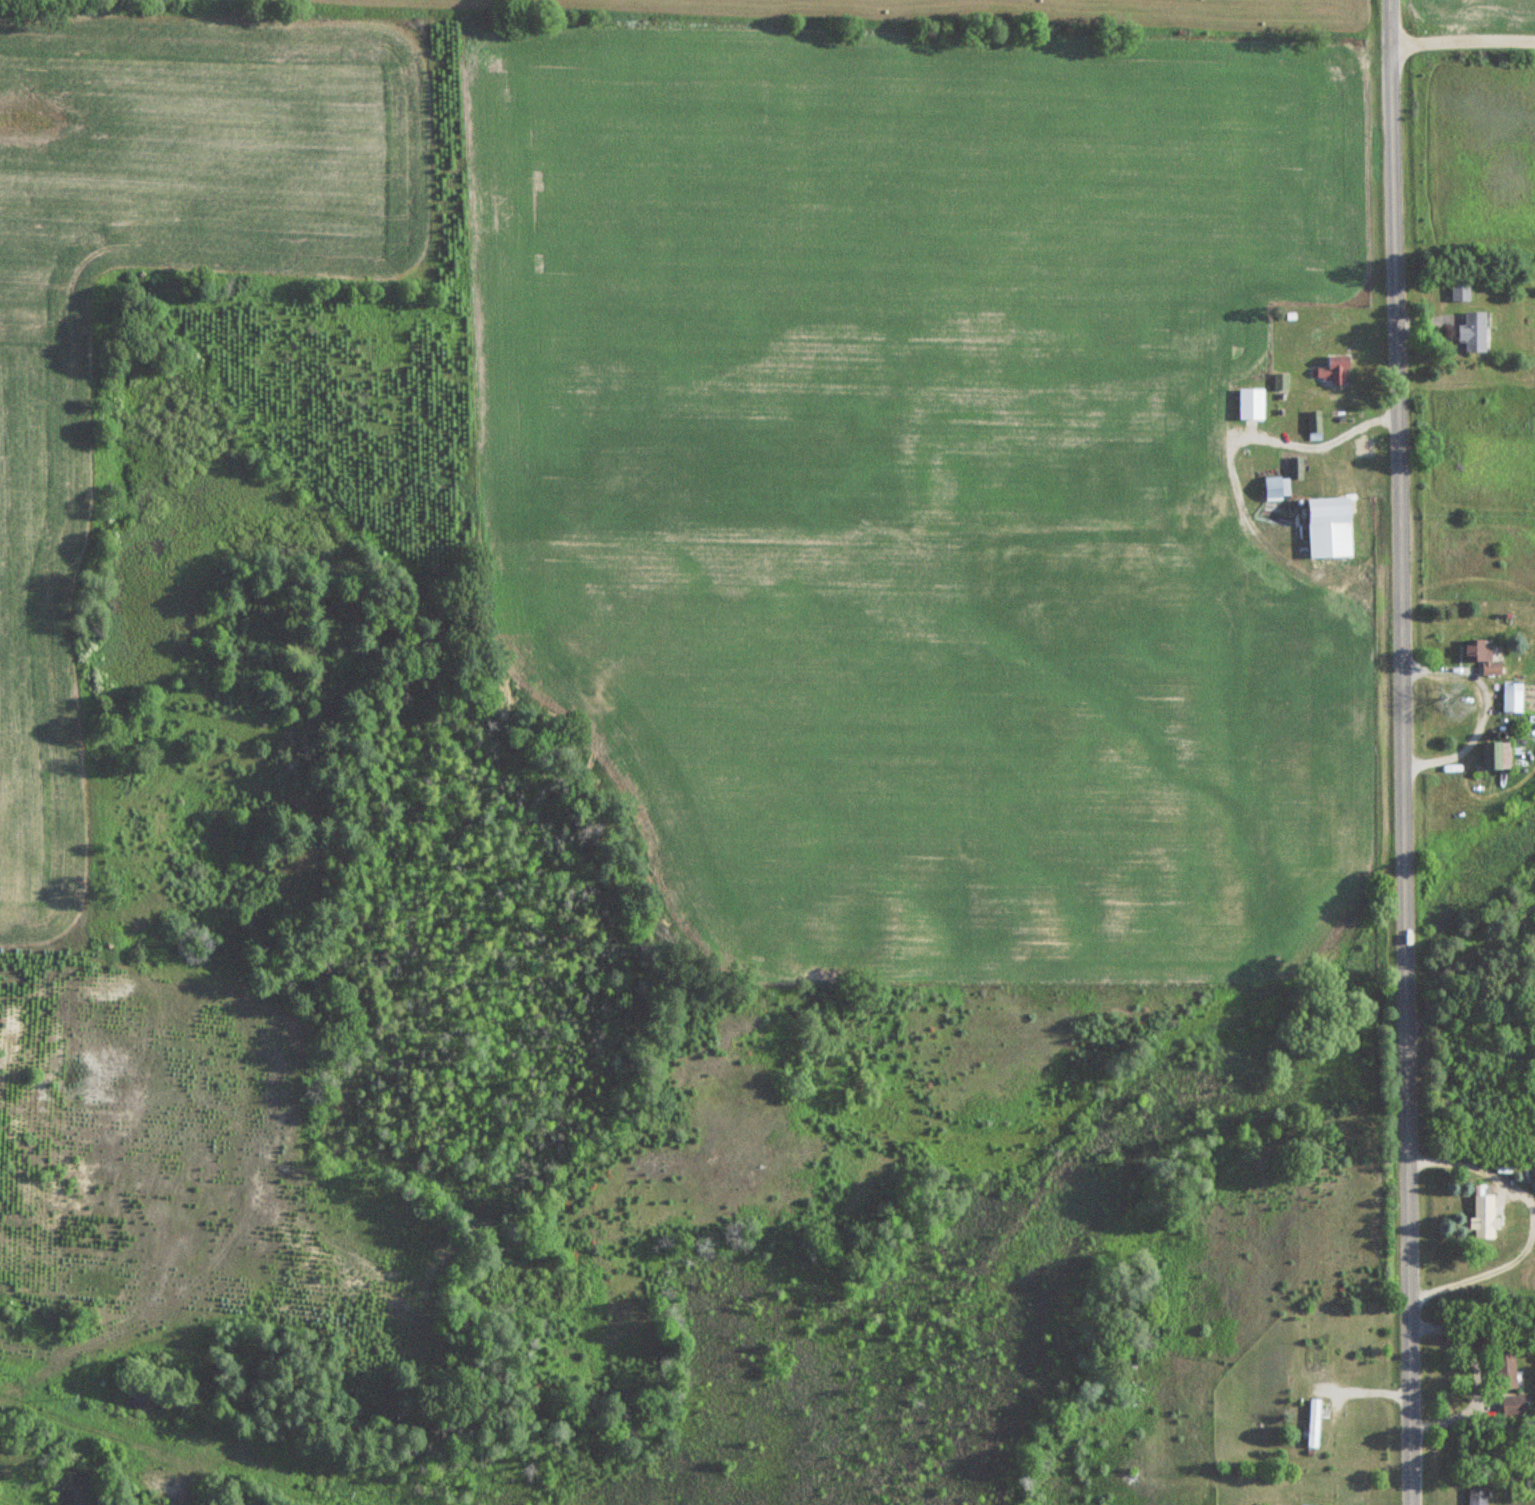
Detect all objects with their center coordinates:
road: (1462, 47)
building: (1459, 291)
building: (1473, 331)
building: (1331, 370)
building: (1279, 381)
building: (1250, 403)
building: (1313, 426)
building: (1363, 448)
building: (1295, 468)
building: (1276, 489)
building: (1329, 527)
building: (1481, 655)
building: (1512, 697)
road: (1401, 752)
building: (1496, 754)
building: (1484, 1215)
building: (1504, 1370)
building: (1511, 1406)
building: (1312, 1423)
building: (1476, 1497)

